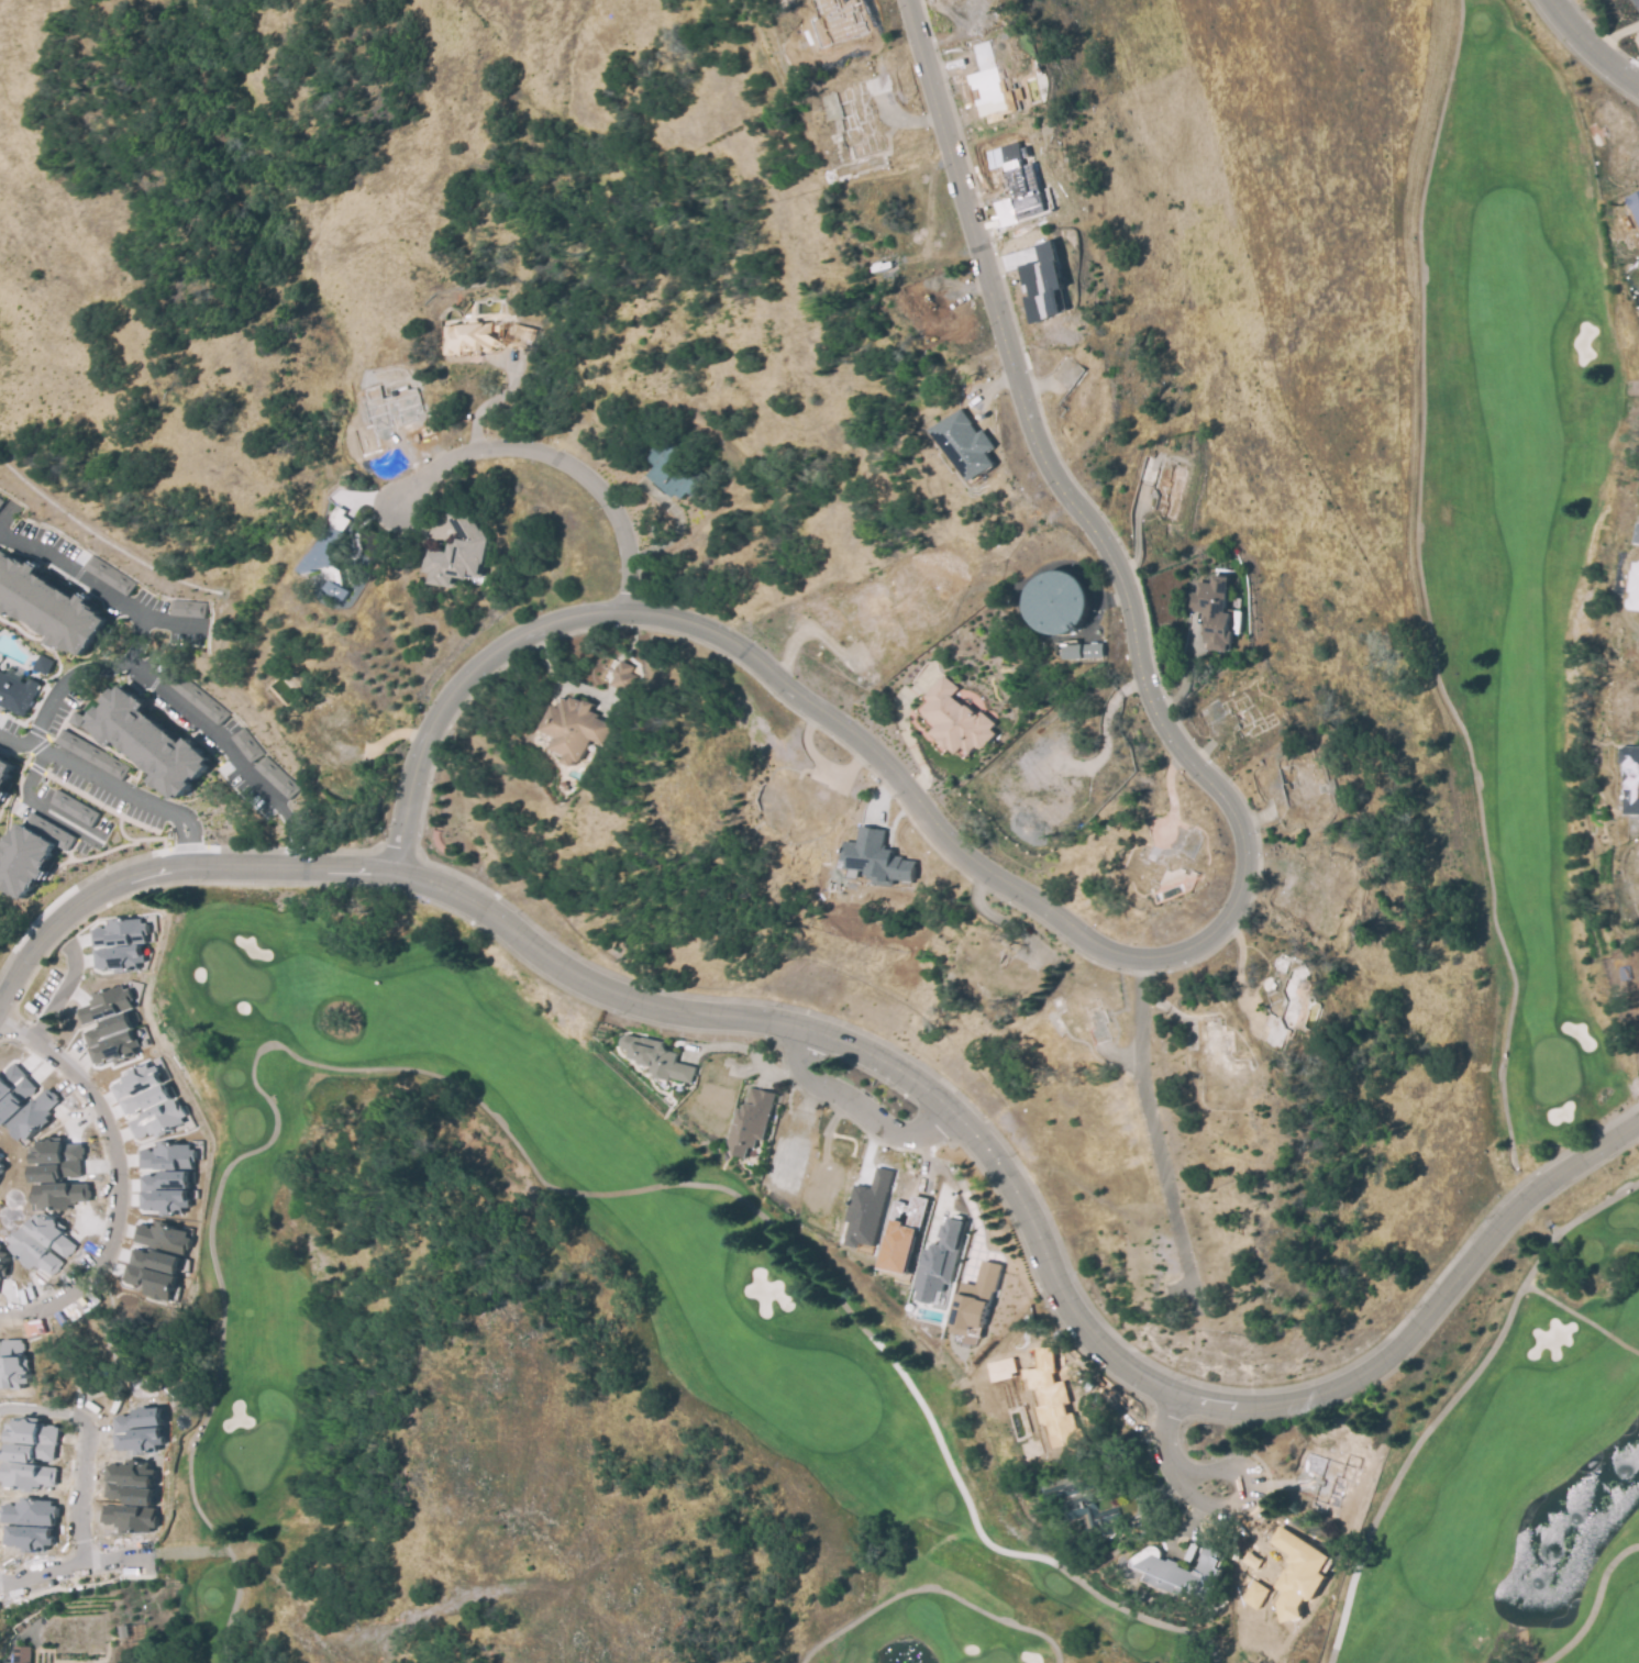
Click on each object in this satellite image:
building: (1636, 3)
road: (1591, 47)
building: (1014, 185)
building: (1635, 203)
building: (1043, 285)
building: (483, 336)
building: (967, 445)
road: (553, 458)
building: (673, 473)
park: (1515, 505)
building: (1638, 541)
building: (329, 553)
building: (459, 553)
building: (107, 575)
road: (92, 585)
building: (1636, 598)
building: (47, 601)
building: (1062, 602)
building: (185, 608)
building: (1214, 612)
road: (628, 650)
building: (1088, 651)
building: (1100, 651)
building: (1072, 652)
building: (41, 662)
road: (89, 669)
building: (624, 678)
road: (564, 681)
building: (16, 694)
building: (192, 694)
building: (957, 720)
building: (576, 729)
road: (904, 733)
building: (148, 741)
road: (16, 743)
building: (245, 744)
building: (90, 754)
building: (4, 776)
building: (275, 776)
building: (1632, 776)
road: (29, 800)
building: (73, 806)
building: (27, 849)
building: (877, 857)
road: (168, 873)
building: (118, 933)
road: (1178, 955)
building: (120, 957)
building: (103, 1006)
building: (110, 1040)
building: (658, 1057)
building: (140, 1090)
building: (20, 1095)
road: (855, 1111)
building: (33, 1117)
building: (156, 1120)
building: (753, 1120)
road: (1149, 1126)
road: (518, 1142)
building: (167, 1157)
building: (1, 1162)
building: (56, 1162)
building: (1, 1167)
road: (115, 1178)
building: (165, 1194)
building: (58, 1196)
road: (963, 1198)
building: (867, 1209)
building: (901, 1235)
building: (51, 1237)
building: (162, 1237)
road: (1043, 1240)
building: (33, 1252)
building: (1, 1260)
building: (939, 1262)
building: (151, 1273)
building: (975, 1297)
road: (27, 1300)
road: (1580, 1318)
building: (10, 1367)
building: (1005, 1370)
park: (704, 1386)
building: (1052, 1399)
road: (1452, 1399)
road: (44, 1413)
building: (137, 1432)
building: (31, 1443)
building: (24, 1476)
building: (129, 1484)
road: (82, 1494)
building: (1090, 1504)
road: (1201, 1511)
building: (130, 1517)
building: (29, 1525)
road: (85, 1567)
building: (1180, 1571)
building: (1299, 1573)
building: (1255, 1594)
road: (1594, 1605)
building: (123, 1631)
building: (20, 1654)

